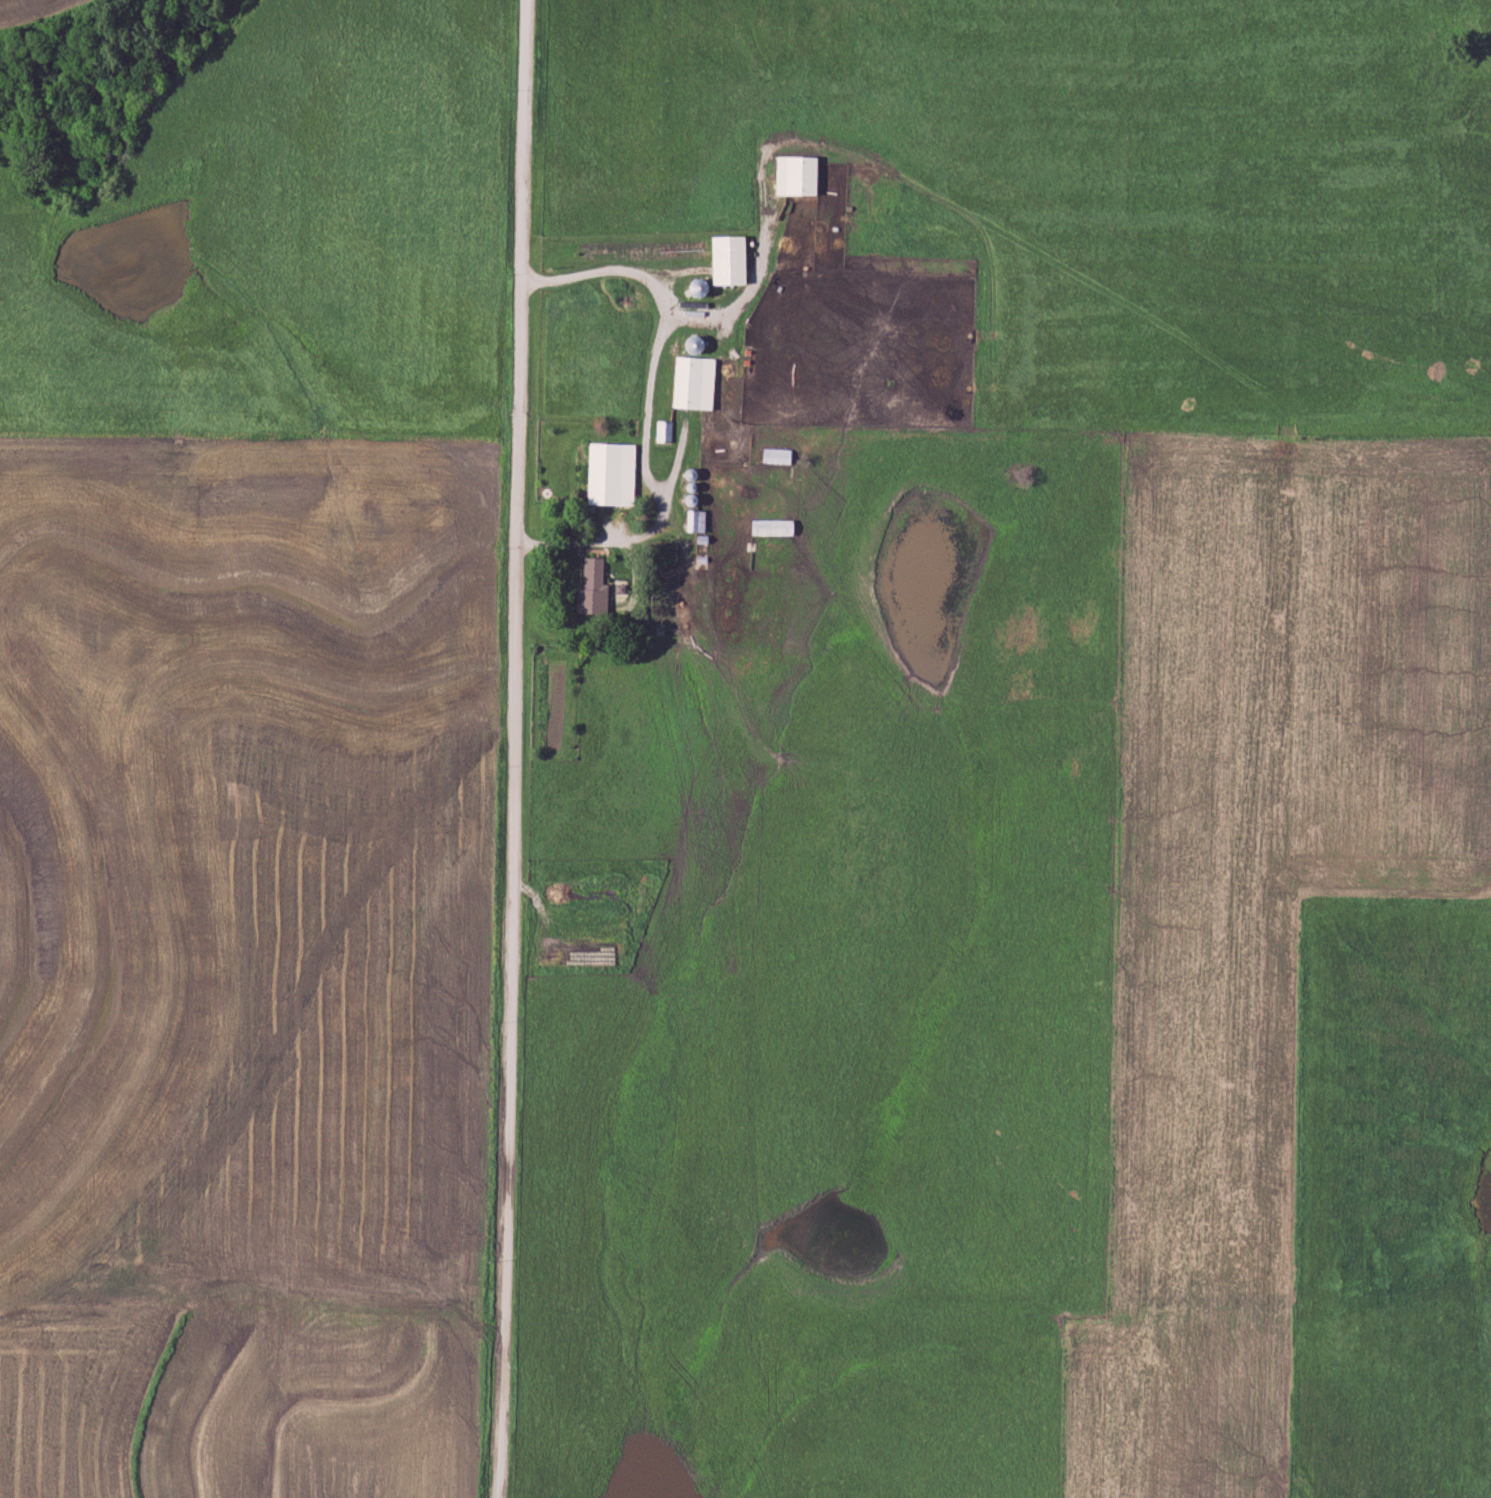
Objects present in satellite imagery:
building: (804, 243)
building: (696, 383)
building: (664, 432)
building: (778, 457)
building: (718, 466)
building: (613, 475)
building: (698, 523)
building: (774, 529)
building: (594, 589)
road: (509, 748)

